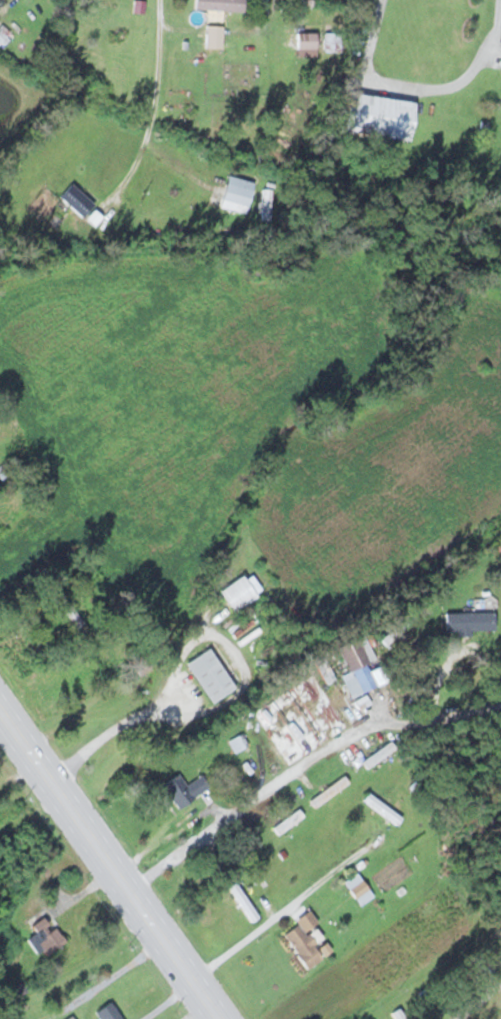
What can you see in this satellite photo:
building: (218, 5)
building: (376, 114)
building: (236, 189)
building: (76, 200)
building: (237, 592)
building: (468, 621)
building: (100, 659)
building: (359, 660)
building: (209, 674)
building: (333, 693)
building: (236, 743)
building: (377, 754)
road: (302, 763)
building: (184, 789)
building: (328, 791)
building: (381, 808)
building: (287, 821)
road: (112, 859)
building: (358, 889)
building: (242, 902)
building: (46, 936)
building: (303, 939)
building: (107, 1012)
building: (71, 1017)

